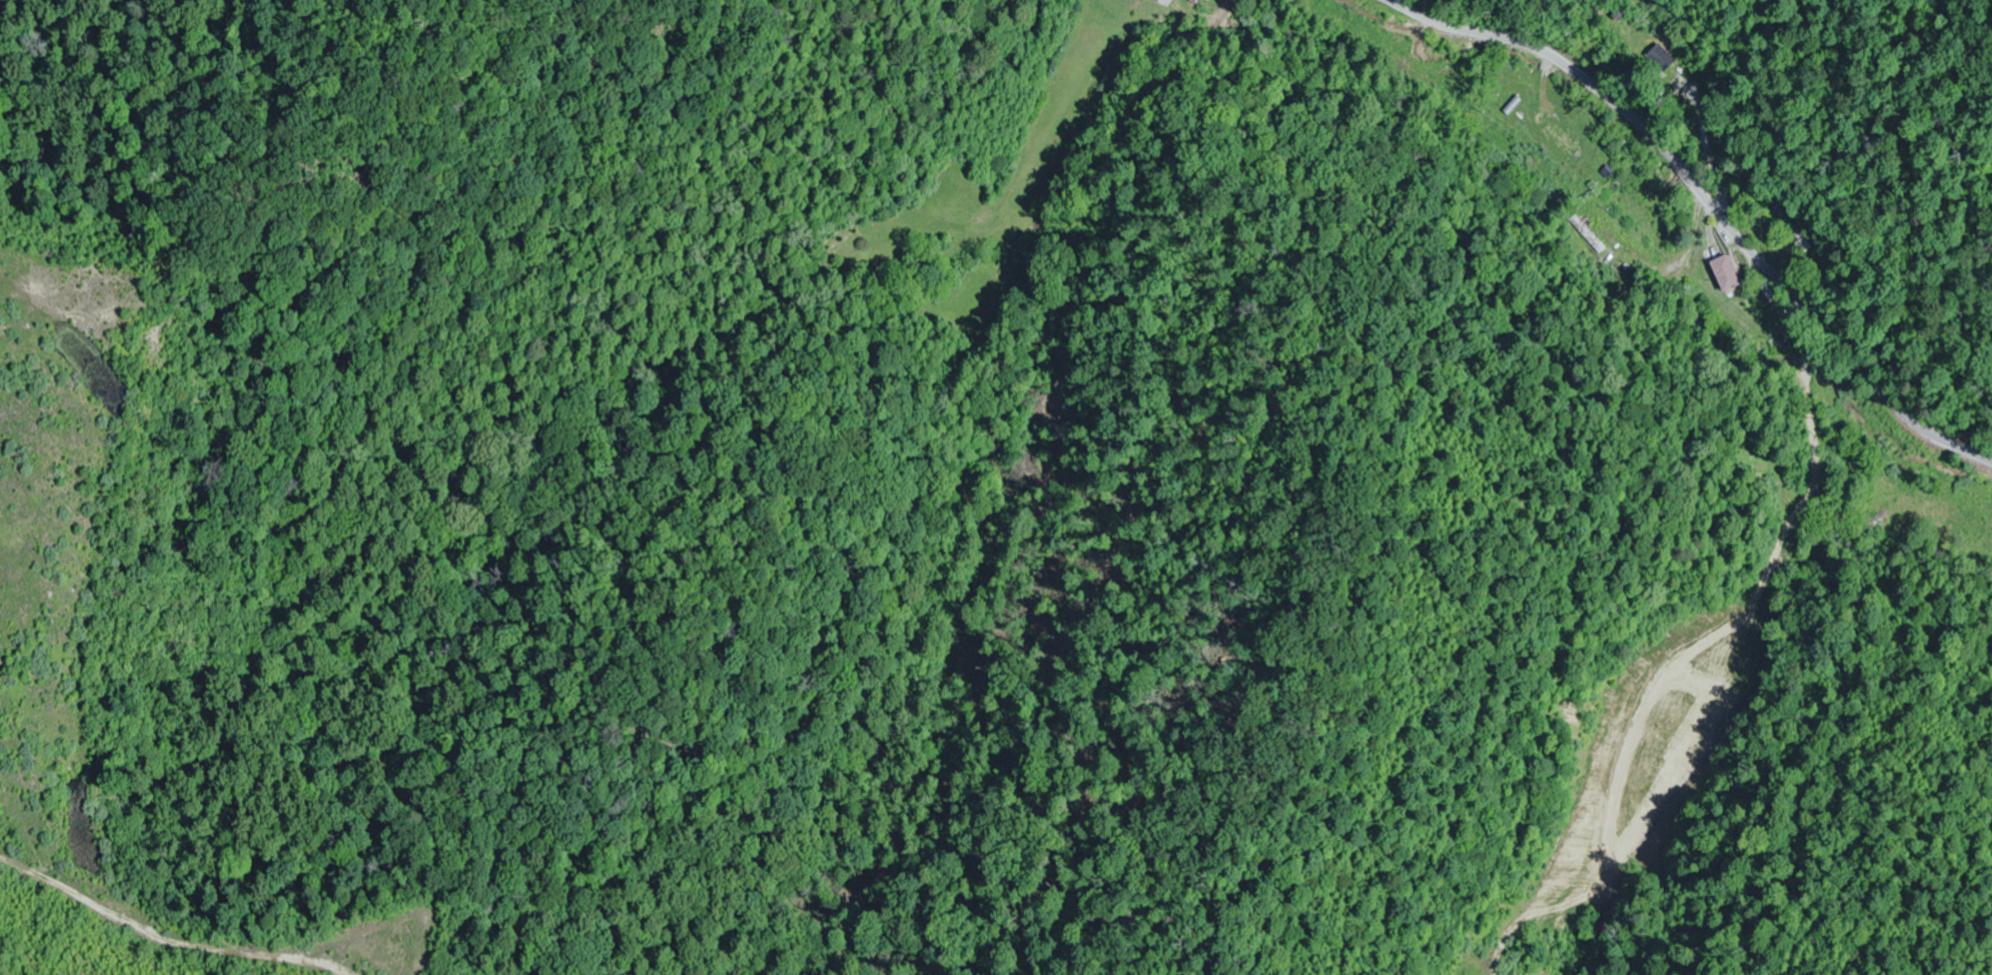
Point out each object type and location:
building: (1156, 1)
building: (1660, 59)
building: (1563, 142)
road: (1710, 201)
building: (1588, 234)
building: (1726, 273)

